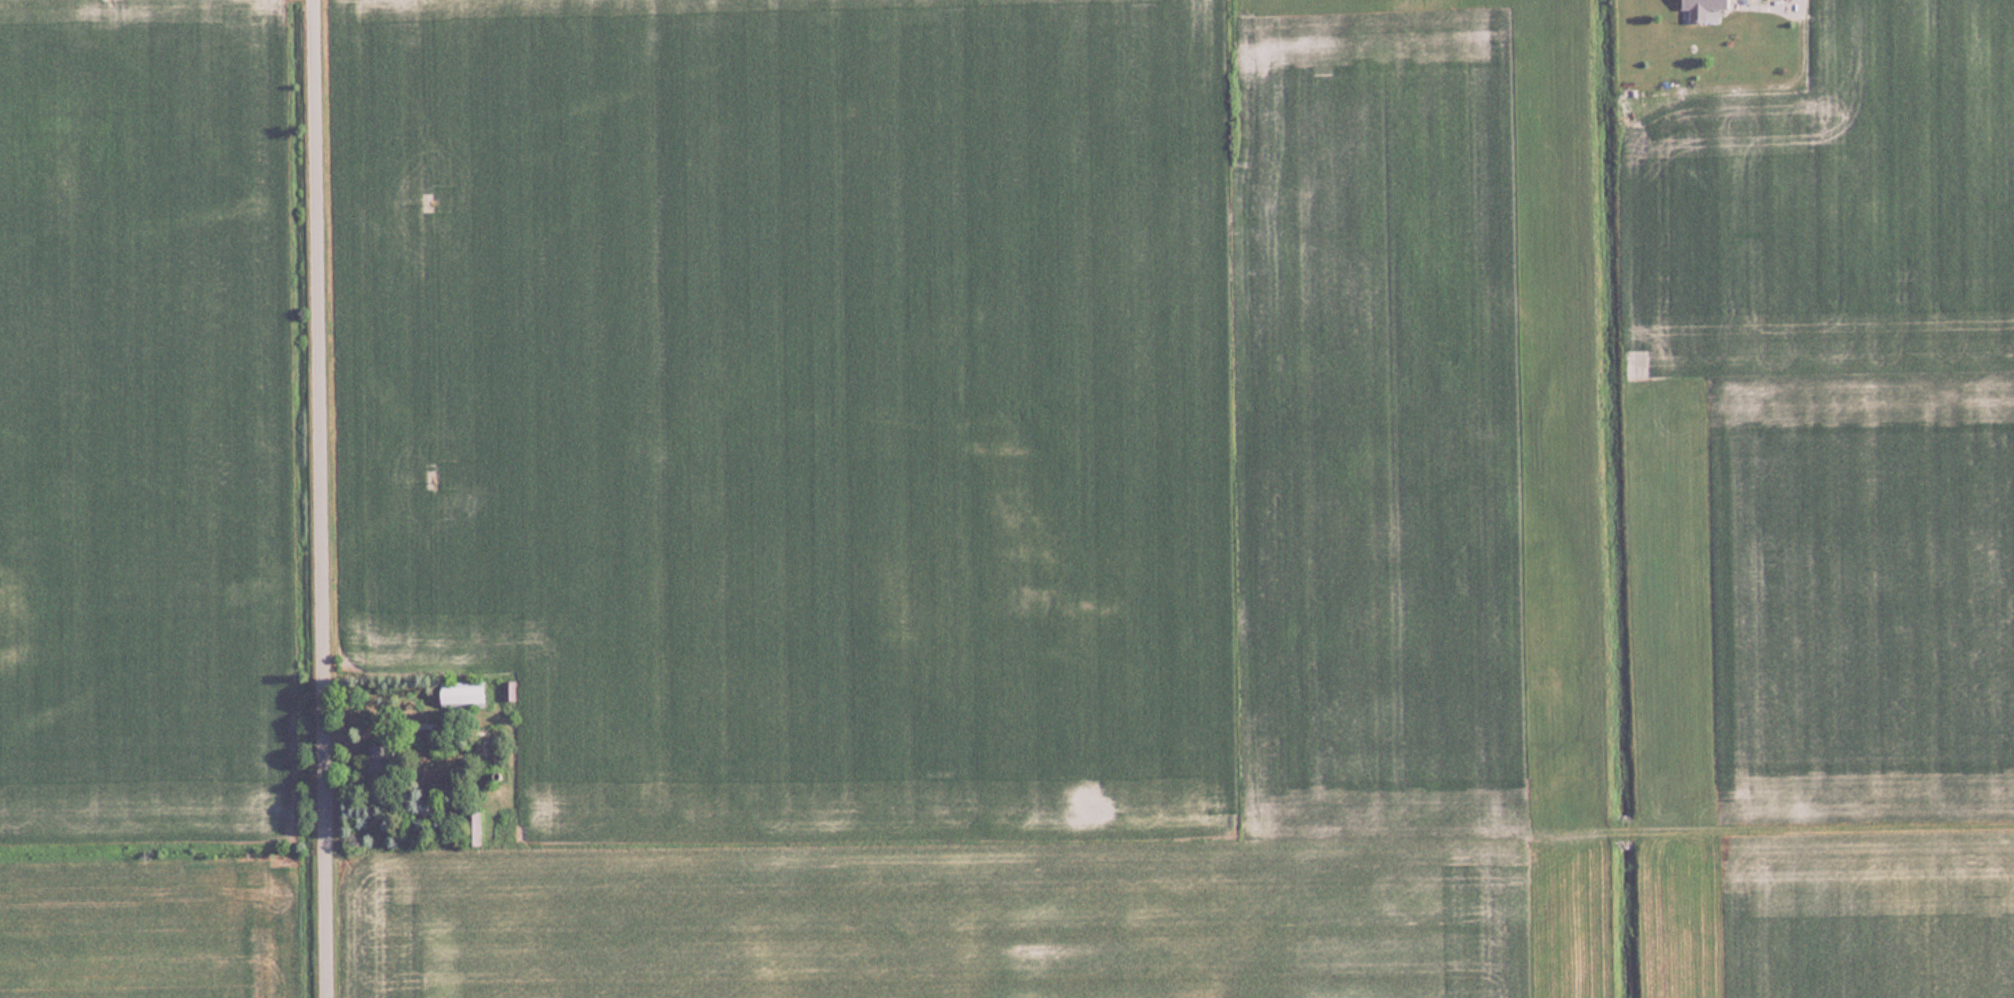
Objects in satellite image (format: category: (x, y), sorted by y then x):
building: (1702, 8)
road: (323, 498)
building: (509, 690)
building: (463, 695)
building: (378, 759)
building: (472, 827)

